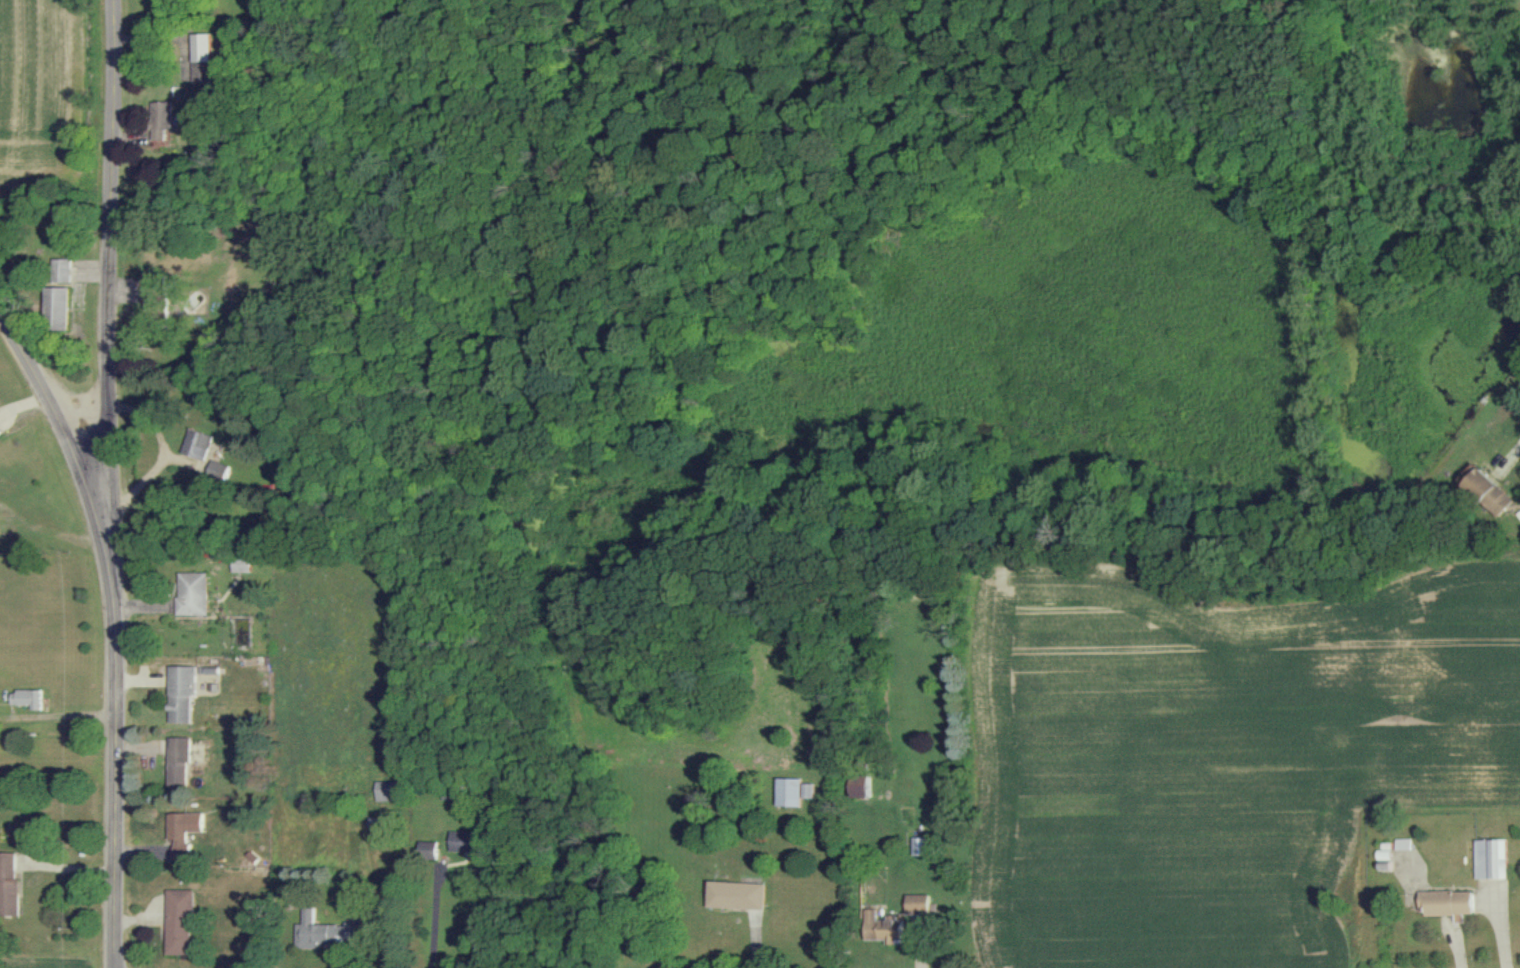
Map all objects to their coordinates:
building: (199, 56)
building: (162, 118)
building: (69, 269)
building: (160, 300)
building: (66, 307)
road: (121, 340)
building: (2, 429)
building: (201, 443)
building: (221, 471)
building: (1488, 491)
road: (1514, 493)
building: (242, 564)
building: (193, 592)
road: (113, 620)
building: (180, 692)
building: (27, 698)
building: (178, 762)
building: (860, 785)
building: (386, 790)
building: (807, 790)
building: (787, 792)
building: (182, 829)
building: (463, 840)
building: (916, 845)
building: (427, 851)
building: (1490, 858)
building: (9, 884)
building: (733, 894)
building: (1447, 902)
building: (914, 903)
road: (433, 917)
building: (179, 921)
building: (879, 927)
building: (328, 932)

